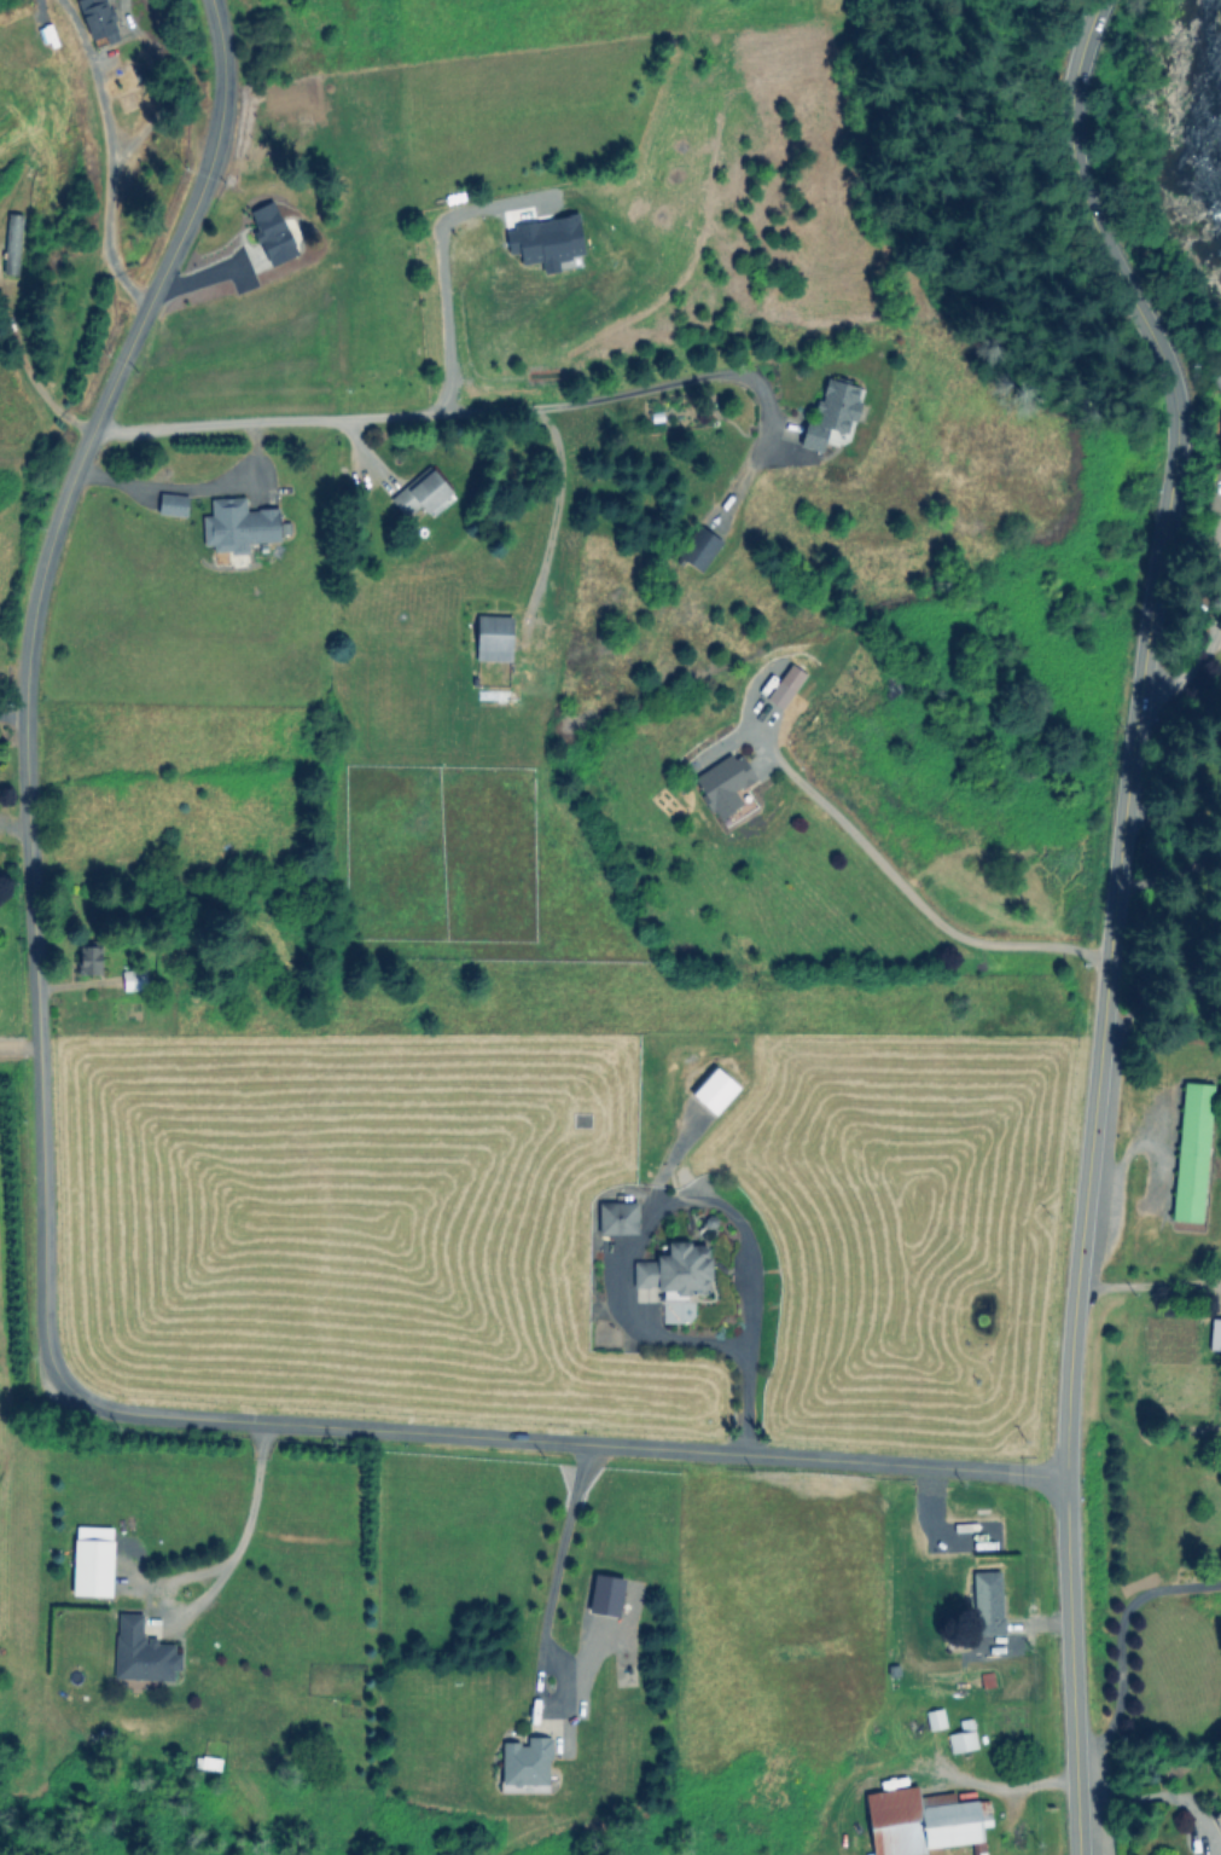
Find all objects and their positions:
road: (126, 13)
building: (98, 18)
road: (80, 25)
river: (1210, 153)
road: (109, 186)
building: (271, 232)
building: (11, 243)
road: (443, 263)
road: (30, 373)
road: (752, 377)
building: (830, 412)
road: (390, 417)
building: (1220, 425)
road: (185, 487)
building: (419, 492)
building: (171, 504)
road: (556, 504)
building: (237, 524)
building: (698, 547)
building: (493, 637)
road: (1194, 665)
road: (25, 671)
building: (785, 685)
road: (12, 713)
building: (722, 783)
road: (1170, 871)
road: (918, 902)
road: (1112, 912)
building: (88, 958)
building: (133, 979)
road: (19, 1043)
building: (714, 1090)
building: (1191, 1150)
building: (617, 1217)
road: (624, 1262)
building: (675, 1270)
road: (1146, 1283)
building: (1214, 1334)
road: (556, 1440)
road: (557, 1563)
building: (92, 1566)
road: (207, 1570)
building: (605, 1594)
building: (987, 1601)
road: (1118, 1641)
building: (140, 1651)
building: (935, 1718)
building: (961, 1737)
building: (525, 1761)
road: (1013, 1786)
road: (1162, 1795)
building: (918, 1820)

